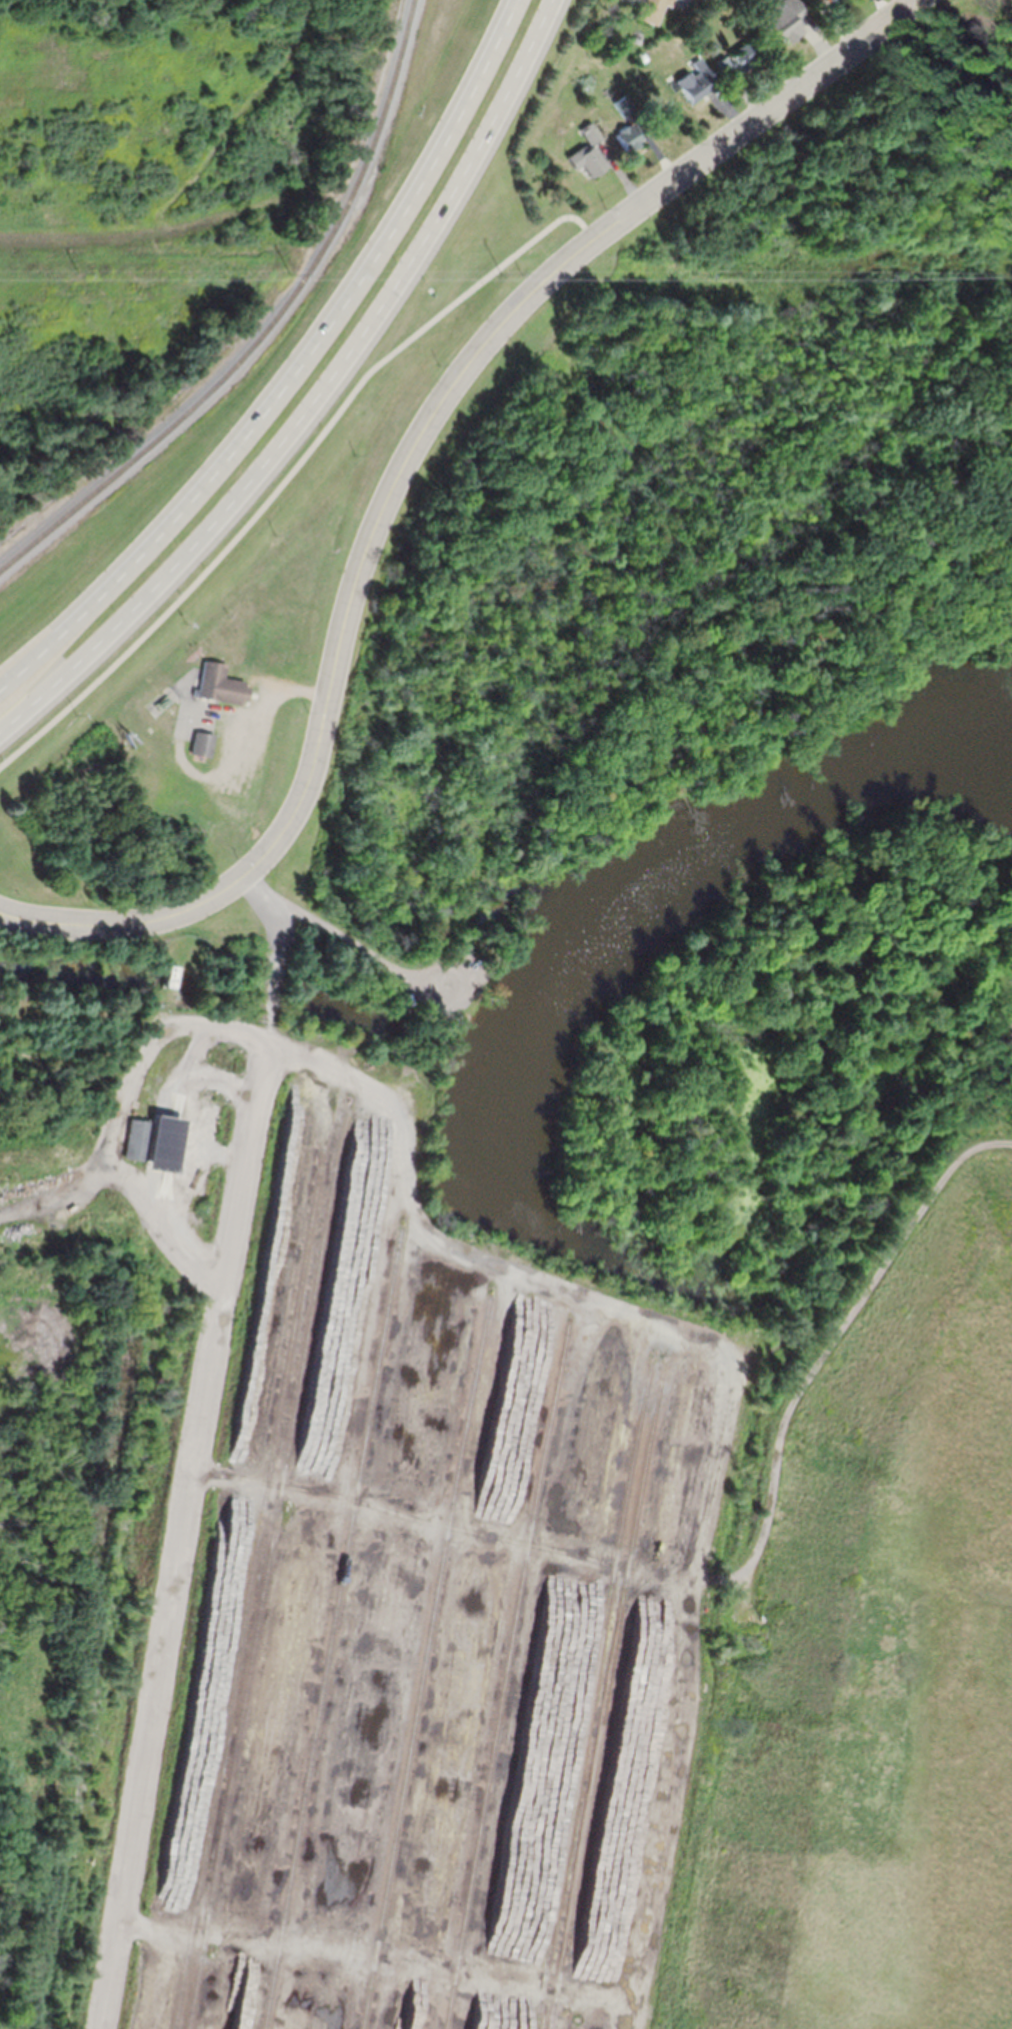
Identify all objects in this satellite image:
building: (737, 1)
building: (835, 1)
building: (648, 9)
building: (782, 19)
building: (686, 30)
building: (634, 37)
building: (735, 57)
building: (693, 80)
building: (621, 104)
building: (588, 132)
building: (625, 135)
building: (584, 159)
railway: (266, 326)
road: (293, 370)
road: (314, 394)
road: (403, 467)
road: (290, 469)
building: (219, 685)
road: (182, 710)
road: (257, 721)
building: (200, 743)
road: (221, 793)
building: (171, 975)
building: (99, 1125)
building: (154, 1141)
road: (201, 1446)
railway: (263, 1564)
railway: (332, 1626)
railway: (424, 1660)
railway: (99, 1668)
railway: (509, 1675)
railway: (592, 1692)
railway: (607, 1693)

